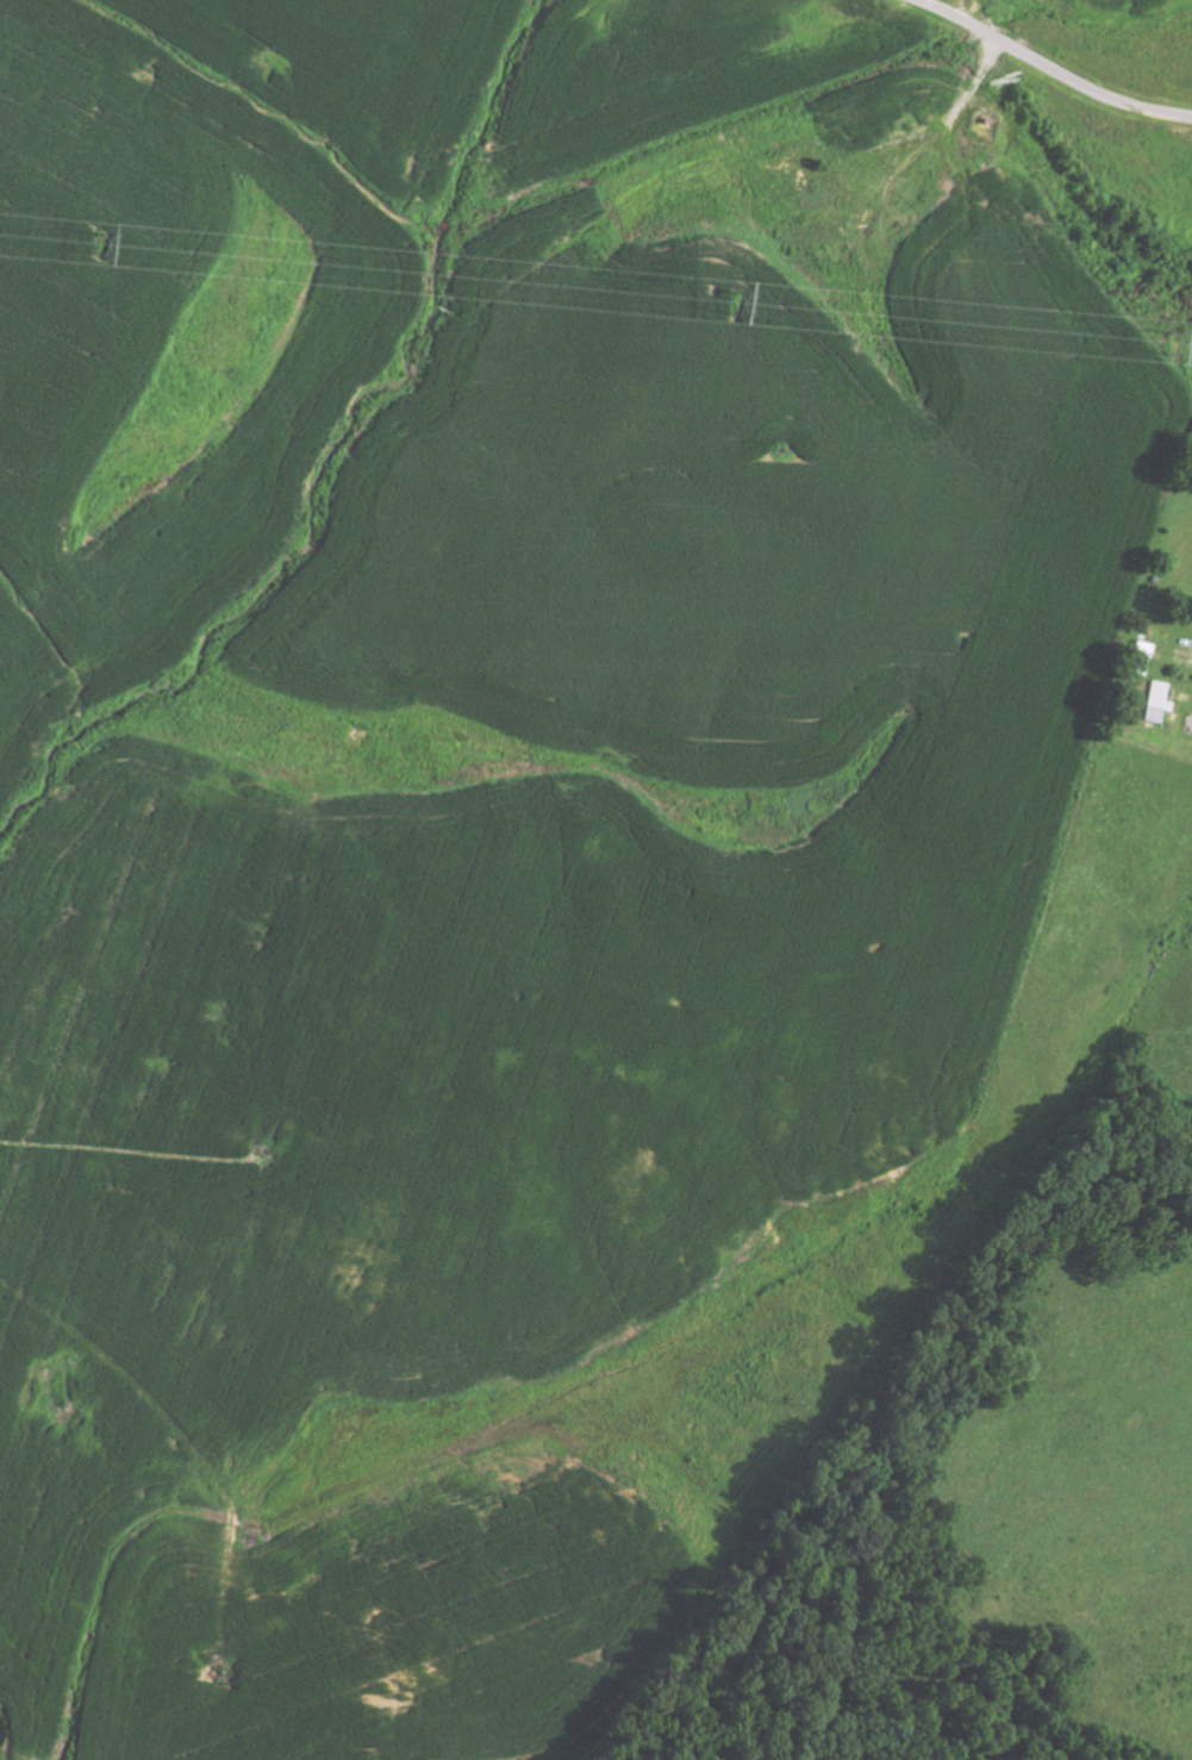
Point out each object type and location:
road: (1053, 68)
power tower: (96, 245)
power tower: (731, 302)
power tower: (1167, 344)

